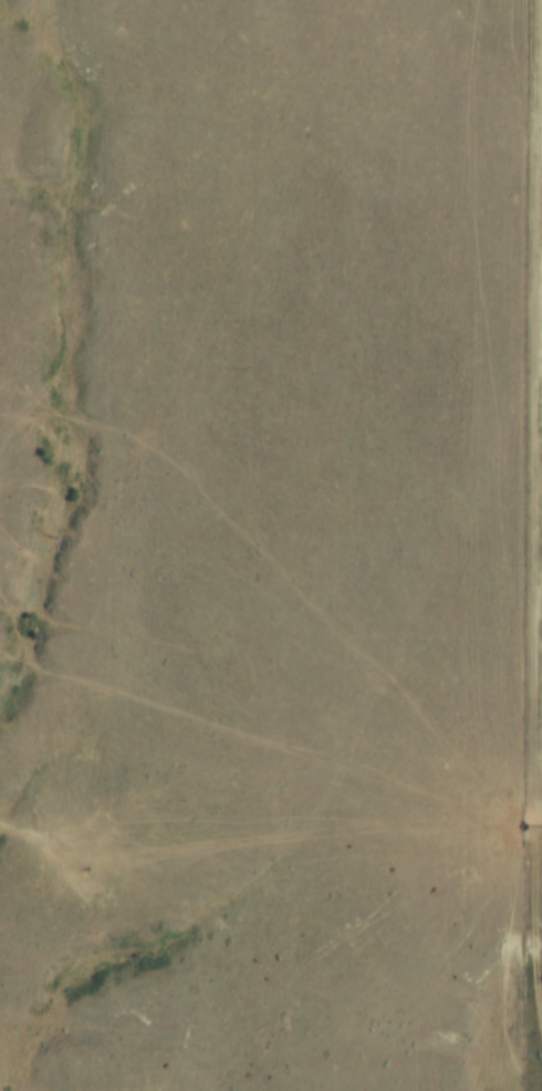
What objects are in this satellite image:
road: (254, 947)
road: (525, 1067)

